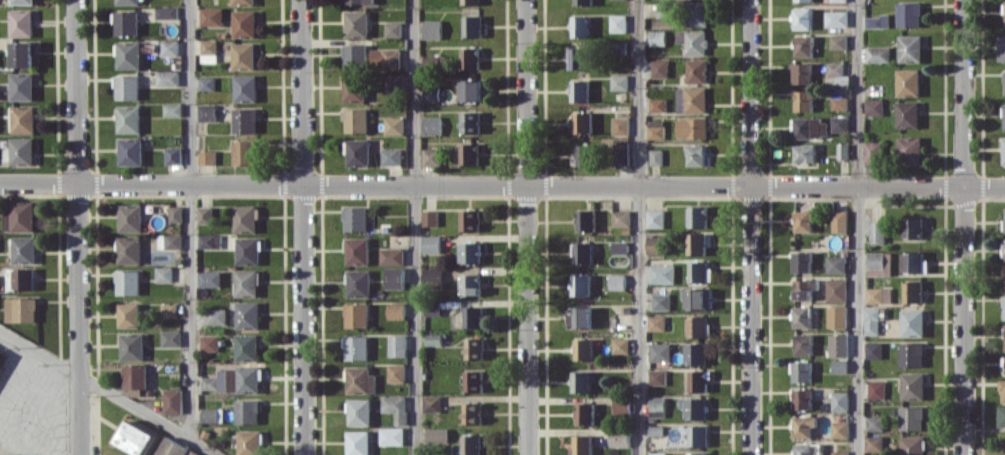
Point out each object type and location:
building: (800, 0)
building: (835, 0)
building: (23, 1)
building: (358, 1)
building: (130, 2)
building: (242, 2)
building: (469, 2)
building: (581, 2)
building: (661, 9)
building: (166, 12)
building: (695, 13)
building: (1003, 13)
building: (906, 14)
building: (211, 16)
building: (800, 18)
building: (833, 18)
building: (874, 21)
building: (22, 22)
building: (127, 22)
building: (244, 23)
building: (356, 23)
building: (616, 23)
building: (470, 26)
building: (578, 26)
building: (392, 29)
building: (431, 29)
building: (655, 37)
building: (691, 41)
building: (835, 41)
building: (802, 45)
building: (169, 47)
building: (907, 48)
building: (1000, 48)
building: (208, 51)
building: (24, 54)
building: (129, 54)
building: (875, 54)
building: (243, 55)
building: (353, 56)
building: (468, 57)
building: (385, 58)
building: (576, 58)
building: (433, 60)
building: (658, 68)
building: (694, 71)
building: (800, 73)
building: (834, 74)
building: (166, 78)
building: (393, 82)
building: (617, 82)
building: (905, 82)
building: (1003, 82)
building: (206, 83)
building: (23, 86)
building: (127, 87)
building: (245, 88)
building: (353, 88)
building: (0, 89)
building: (470, 90)
building: (578, 90)
road: (525, 92)
building: (429, 94)
building: (689, 99)
building: (801, 100)
building: (837, 103)
building: (656, 104)
building: (871, 107)
building: (172, 109)
building: (206, 112)
building: (905, 114)
building: (1003, 116)
building: (24, 119)
building: (128, 119)
building: (244, 120)
building: (355, 120)
building: (469, 122)
building: (581, 122)
building: (837, 123)
building: (392, 125)
building: (430, 125)
building: (619, 125)
building: (691, 127)
building: (809, 128)
building: (654, 129)
building: (907, 149)
building: (1002, 150)
building: (22, 151)
building: (130, 151)
building: (840, 151)
building: (243, 152)
building: (357, 152)
building: (619, 152)
building: (870, 152)
building: (467, 153)
building: (802, 153)
building: (172, 155)
building: (582, 155)
building: (694, 155)
building: (206, 156)
building: (390, 156)
building: (429, 156)
building: (654, 156)
road: (263, 183)
road: (765, 185)
building: (174, 214)
building: (203, 214)
building: (20, 216)
building: (696, 216)
building: (130, 217)
building: (428, 217)
building: (244, 218)
building: (354, 218)
building: (619, 218)
building: (654, 218)
road: (190, 219)
building: (468, 220)
building: (584, 220)
building: (1003, 220)
building: (802, 221)
building: (838, 221)
road: (78, 227)
road: (302, 227)
road: (412, 227)
road: (637, 227)
road: (749, 227)
road: (856, 227)
road: (962, 227)
building: (913, 228)
building: (876, 231)
building: (169, 241)
building: (208, 241)
building: (695, 243)
building: (430, 244)
building: (654, 245)
building: (619, 247)
building: (24, 249)
building: (1002, 249)
building: (129, 250)
building: (247, 250)
building: (356, 250)
building: (470, 252)
building: (582, 252)
building: (390, 256)
building: (801, 261)
building: (914, 262)
building: (878, 263)
building: (835, 264)
building: (698, 271)
building: (661, 273)
building: (163, 274)
building: (431, 274)
building: (1004, 276)
building: (394, 277)
building: (21, 278)
building: (209, 278)
building: (616, 281)
building: (127, 282)
building: (246, 283)
building: (358, 283)
building: (470, 285)
building: (579, 285)
building: (804, 288)
building: (835, 290)
building: (911, 292)
building: (877, 295)
building: (697, 297)
building: (660, 301)
building: (1003, 307)
building: (21, 309)
building: (168, 310)
building: (395, 310)
building: (247, 314)
building: (129, 315)
building: (356, 315)
building: (215, 316)
building: (472, 316)
building: (836, 316)
building: (579, 317)
building: (801, 317)
road: (526, 320)
building: (871, 321)
building: (655, 322)
building: (912, 322)
building: (697, 326)
building: (1004, 336)
building: (170, 338)
building: (208, 343)
building: (803, 344)
building: (396, 345)
building: (620, 345)
building: (132, 346)
building: (245, 347)
building: (355, 347)
building: (473, 348)
building: (583, 349)
building: (837, 349)
building: (872, 350)
building: (659, 351)
building: (696, 353)
building: (911, 354)
building: (839, 366)
building: (801, 371)
building: (395, 372)
building: (135, 376)
building: (657, 376)
building: (242, 379)
building: (359, 380)
building: (472, 380)
building: (698, 380)
building: (580, 381)
building: (209, 383)
building: (912, 385)
building: (876, 389)
building: (1002, 391)
road: (109, 392)
building: (802, 398)
building: (172, 400)
building: (840, 401)
building: (431, 403)
building: (621, 405)
building: (657, 406)
building: (395, 407)
building: (694, 407)
building: (246, 411)
building: (359, 412)
building: (471, 413)
building: (584, 413)
building: (211, 415)
building: (1001, 416)
building: (911, 417)
building: (874, 423)
building: (804, 425)
building: (840, 429)
building: (656, 430)
building: (437, 435)
building: (698, 435)
building: (390, 436)
building: (135, 438)
building: (619, 438)
building: (249, 442)
building: (358, 442)
building: (874, 443)
building: (471, 444)
building: (582, 444)
building: (913, 445)
building: (171, 447)
building: (840, 452)
building: (194, 453)
building: (657, 453)
building: (697, 453)

